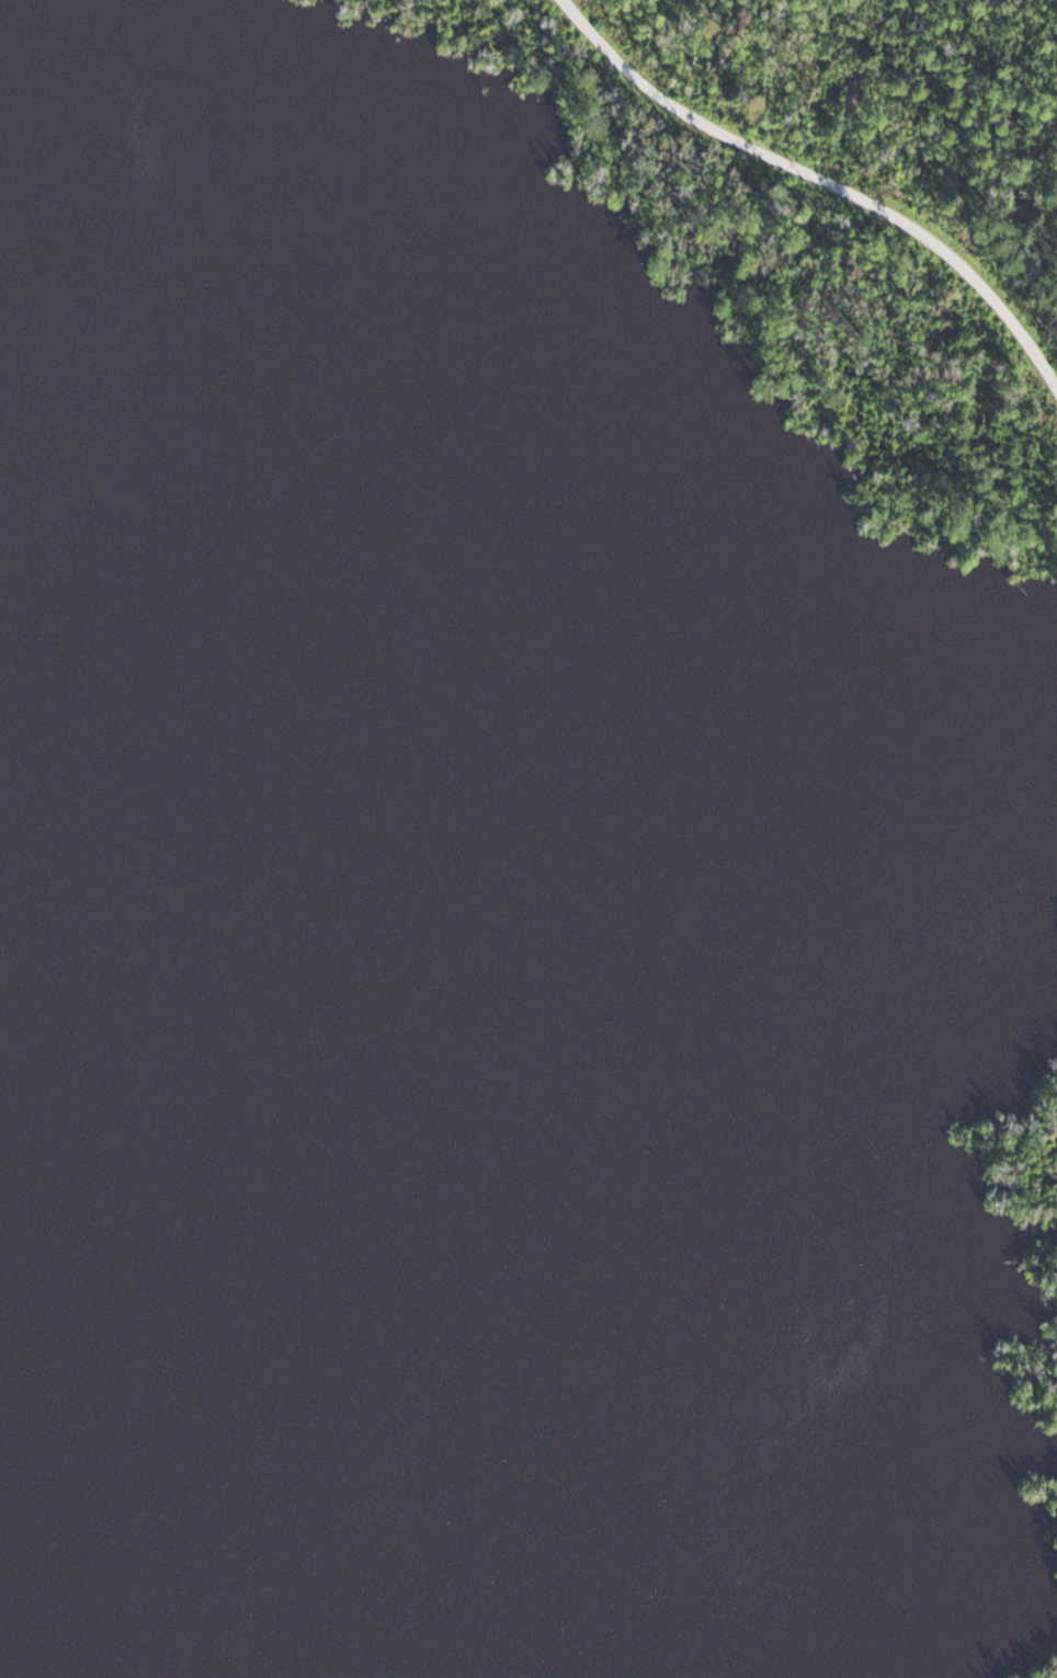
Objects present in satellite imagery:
road: (823, 180)

